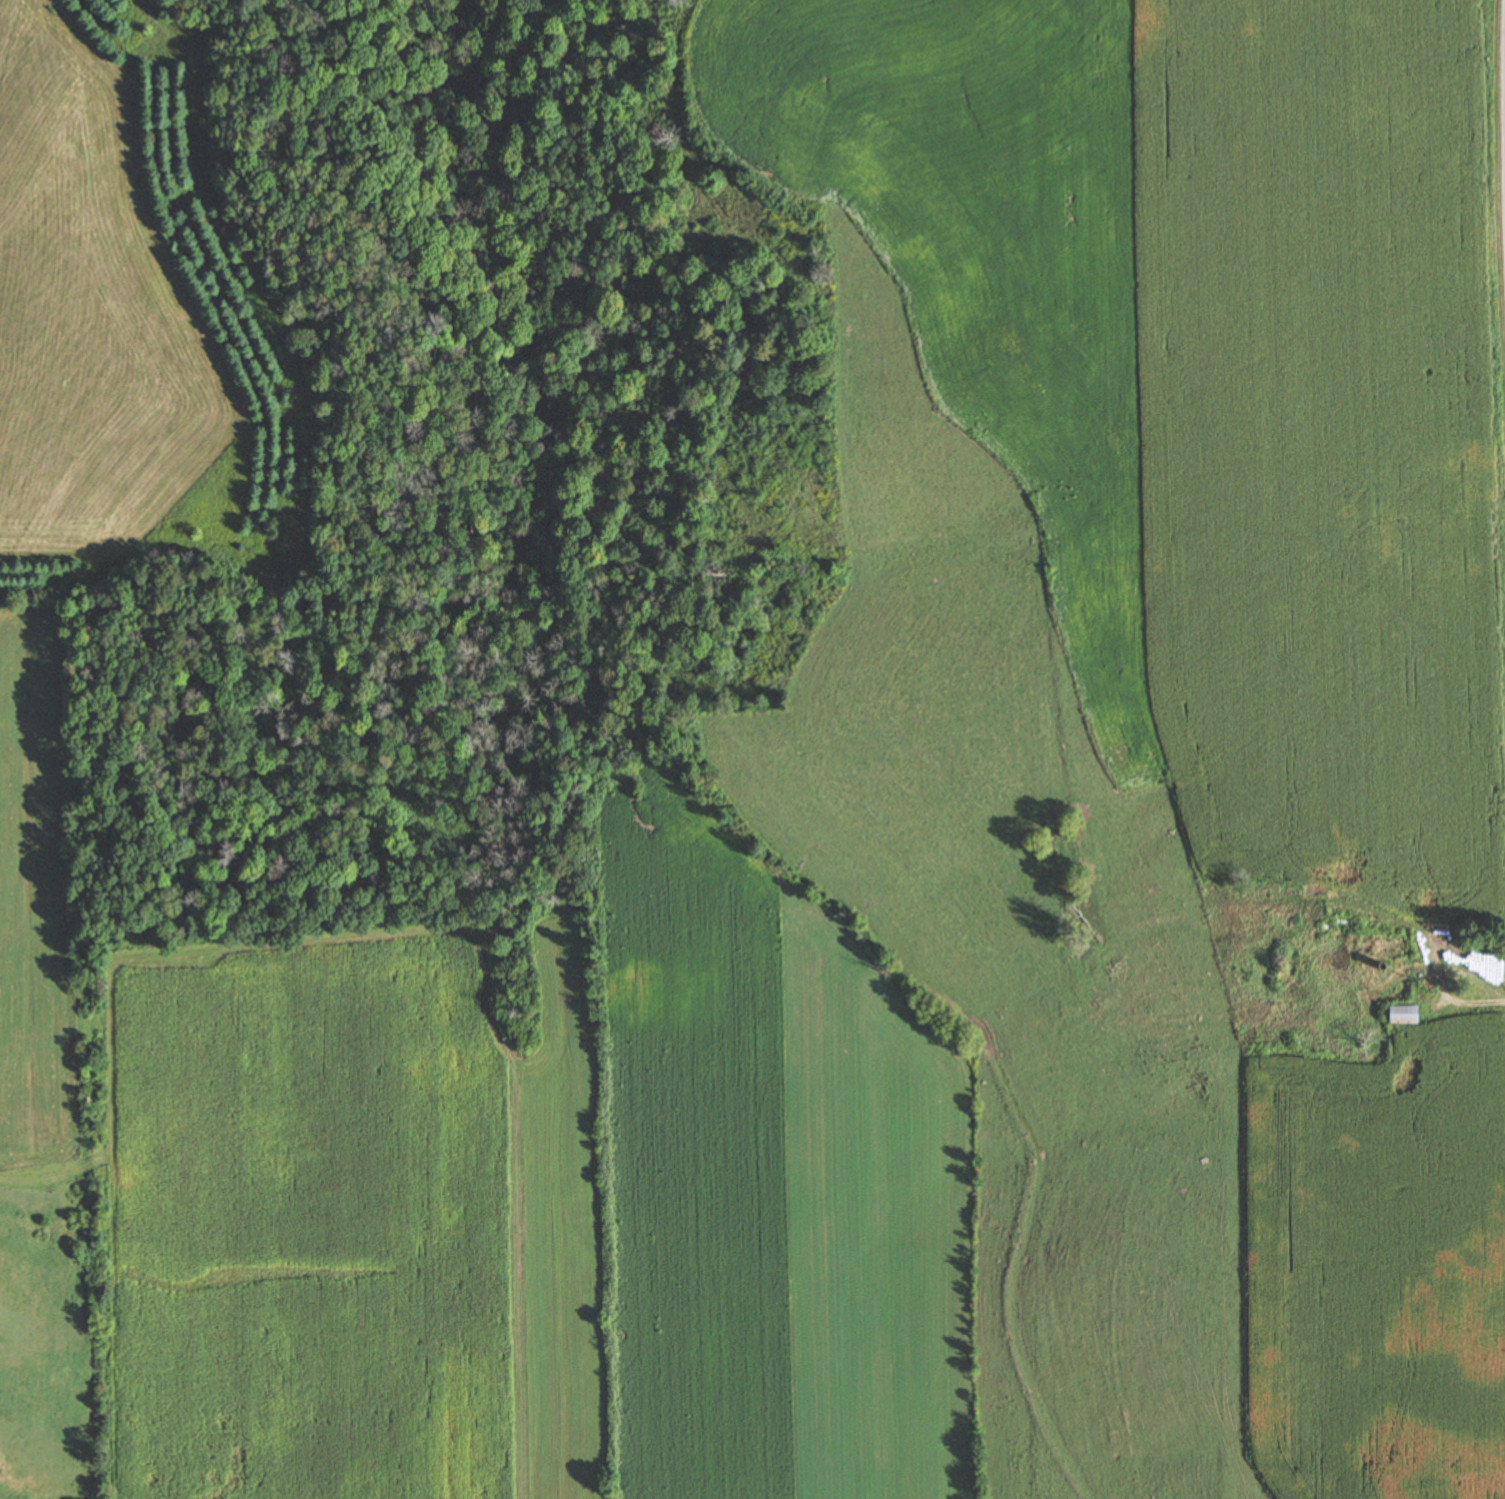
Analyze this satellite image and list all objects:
building: (1406, 1015)

